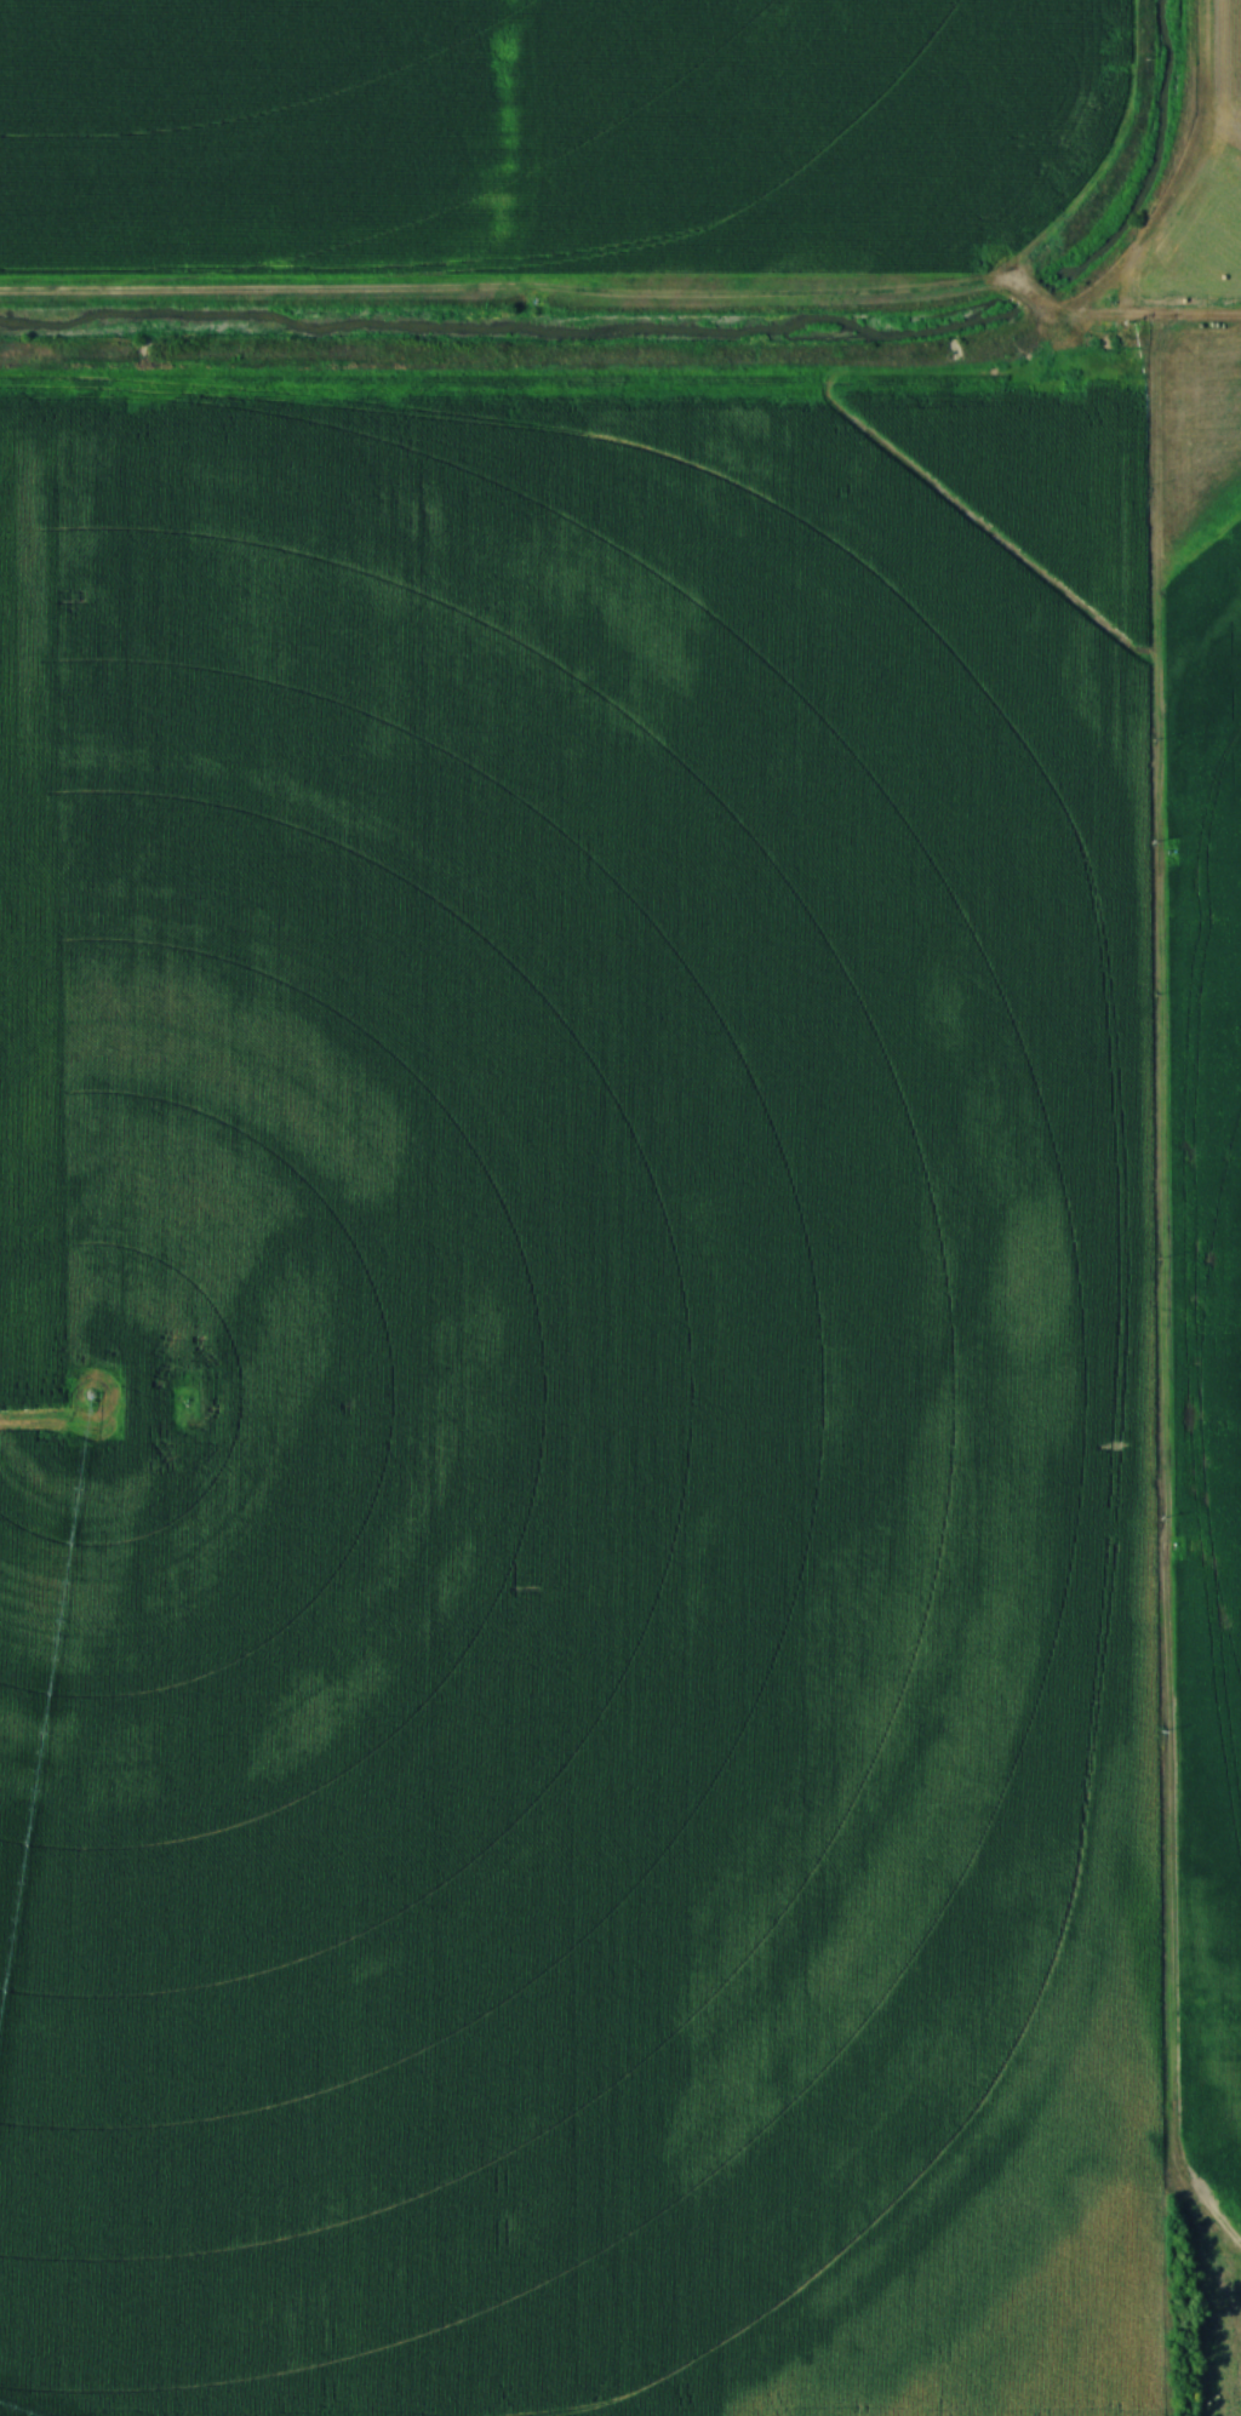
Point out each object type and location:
road: (1167, 2223)

